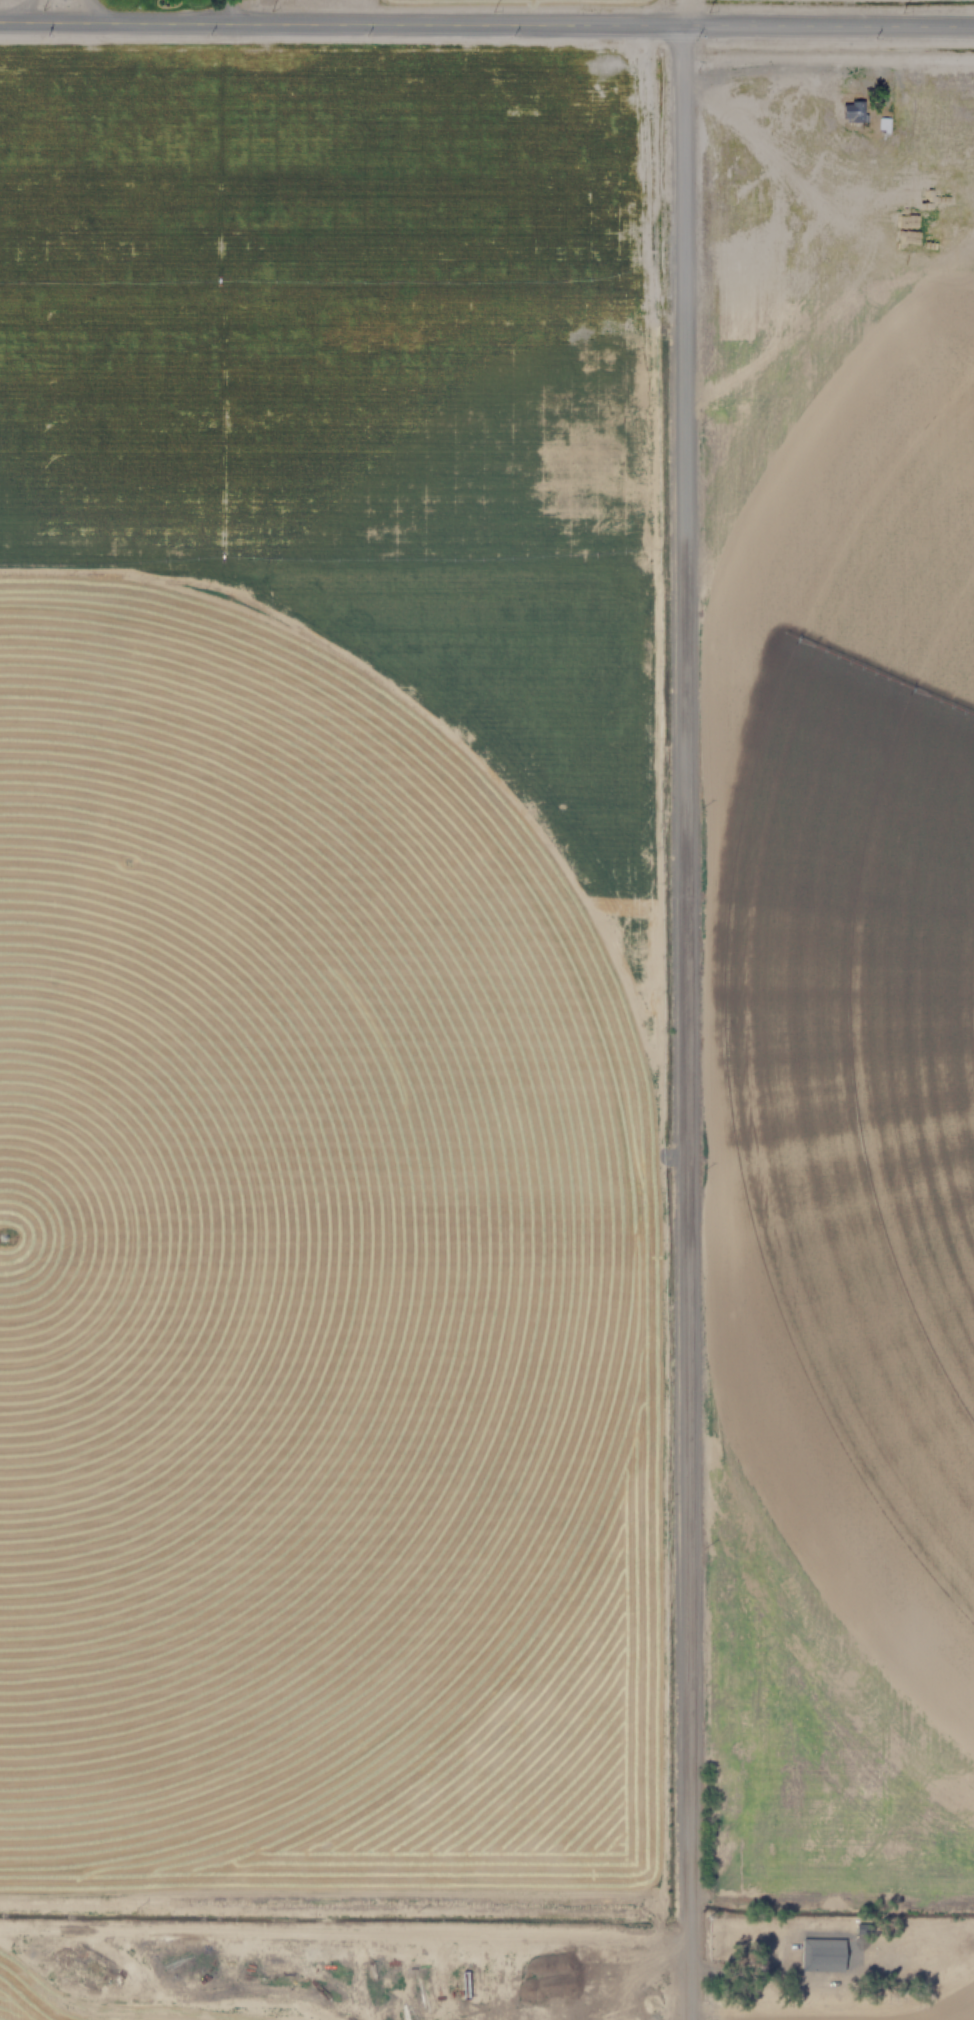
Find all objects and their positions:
road: (486, 25)
road: (790, 67)
building: (845, 111)
building: (881, 125)
road: (685, 1023)
crop: (277, 1230)
building: (820, 1954)
crop: (56, 1997)

